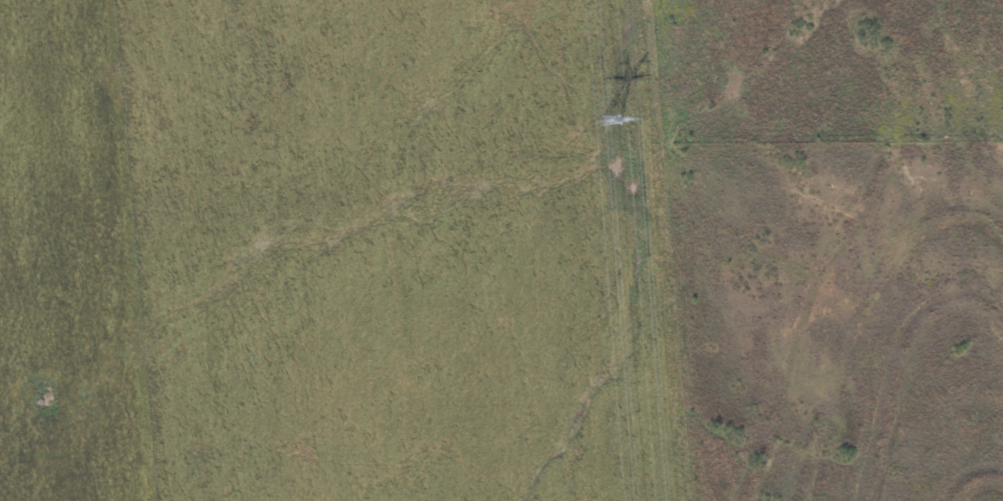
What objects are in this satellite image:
power tower: (610, 118)

